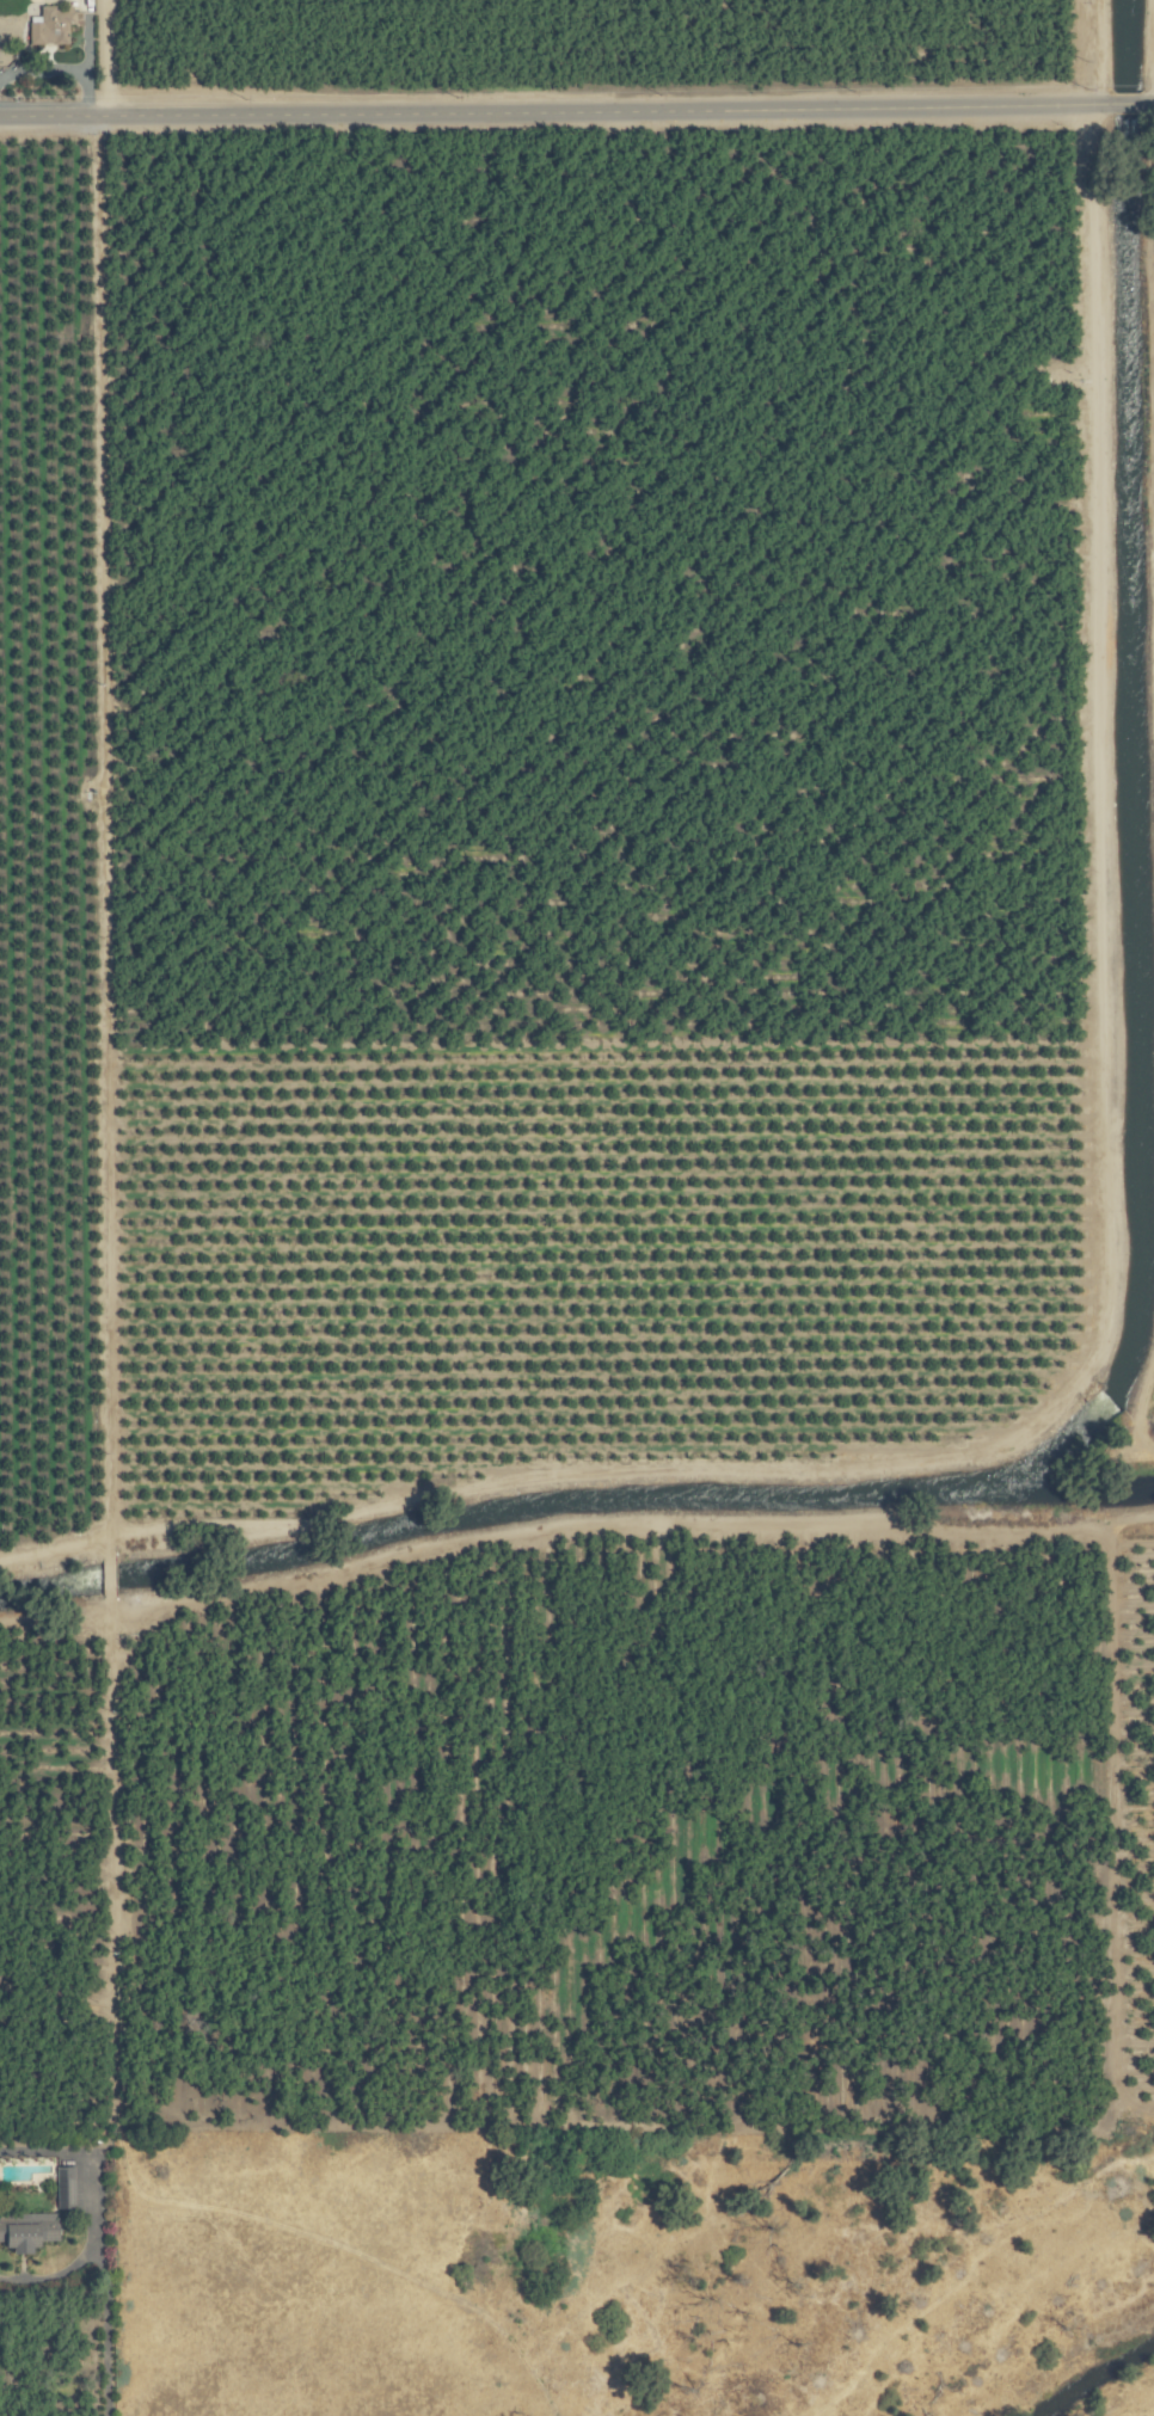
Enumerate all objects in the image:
building: (48, 25)
road: (1097, 51)
road: (111, 57)
road: (1147, 103)
road: (1127, 104)
road: (557, 110)
road: (109, 879)
crop: (573, 1098)
building: (63, 2188)
building: (26, 2231)
road: (105, 2299)
crop: (612, 2299)

